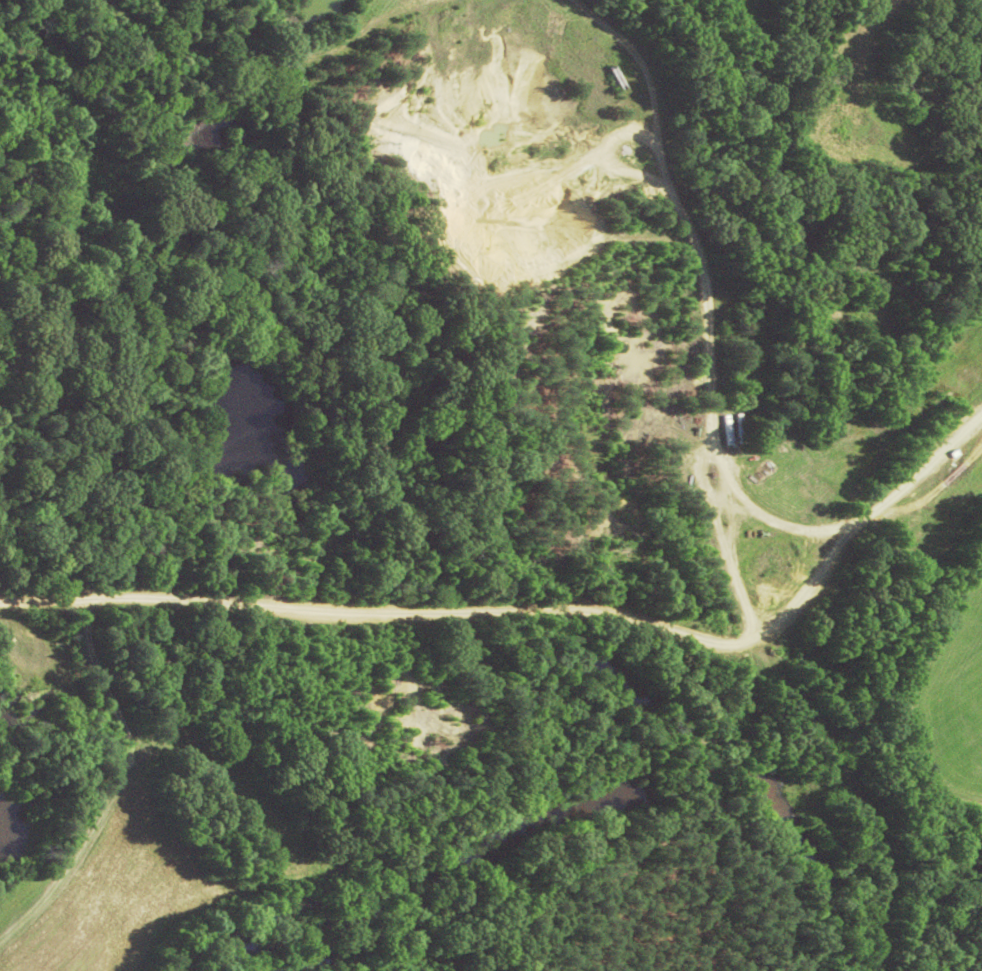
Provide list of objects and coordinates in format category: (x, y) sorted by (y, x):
building: (615, 86)

